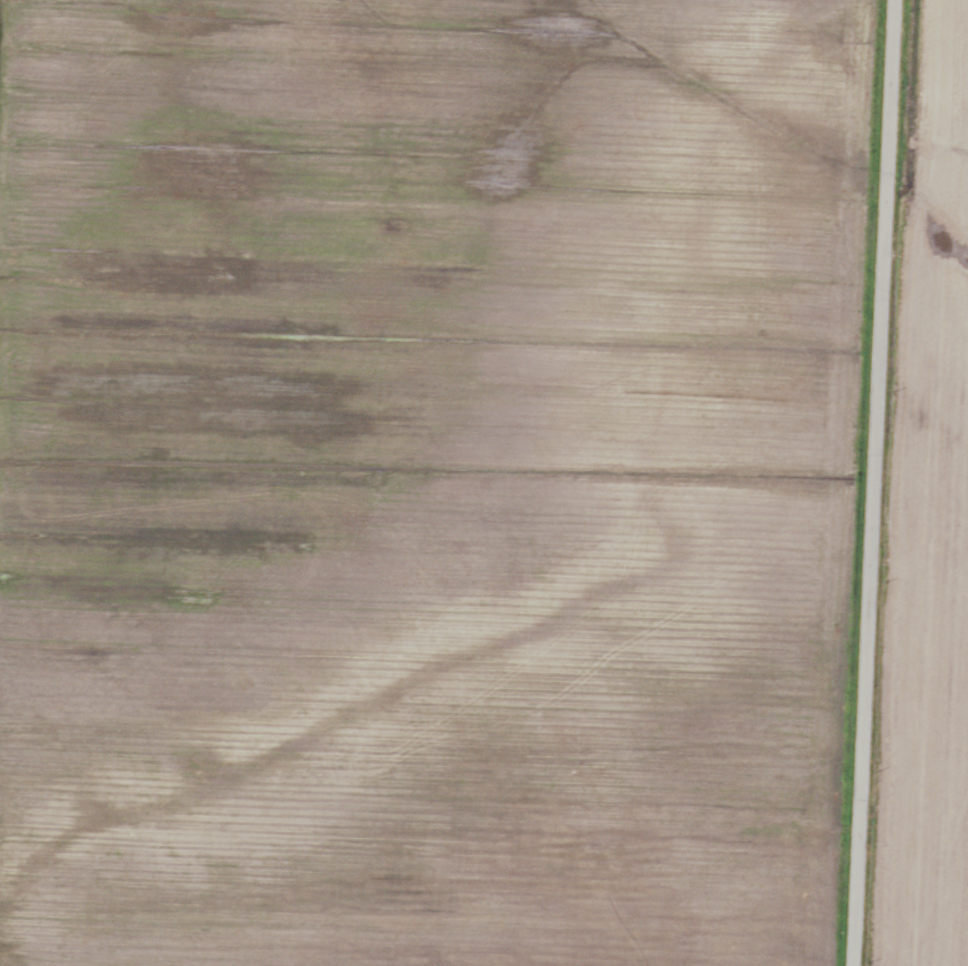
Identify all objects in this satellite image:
crop: (431, 478)
road: (873, 483)
crop: (924, 533)

